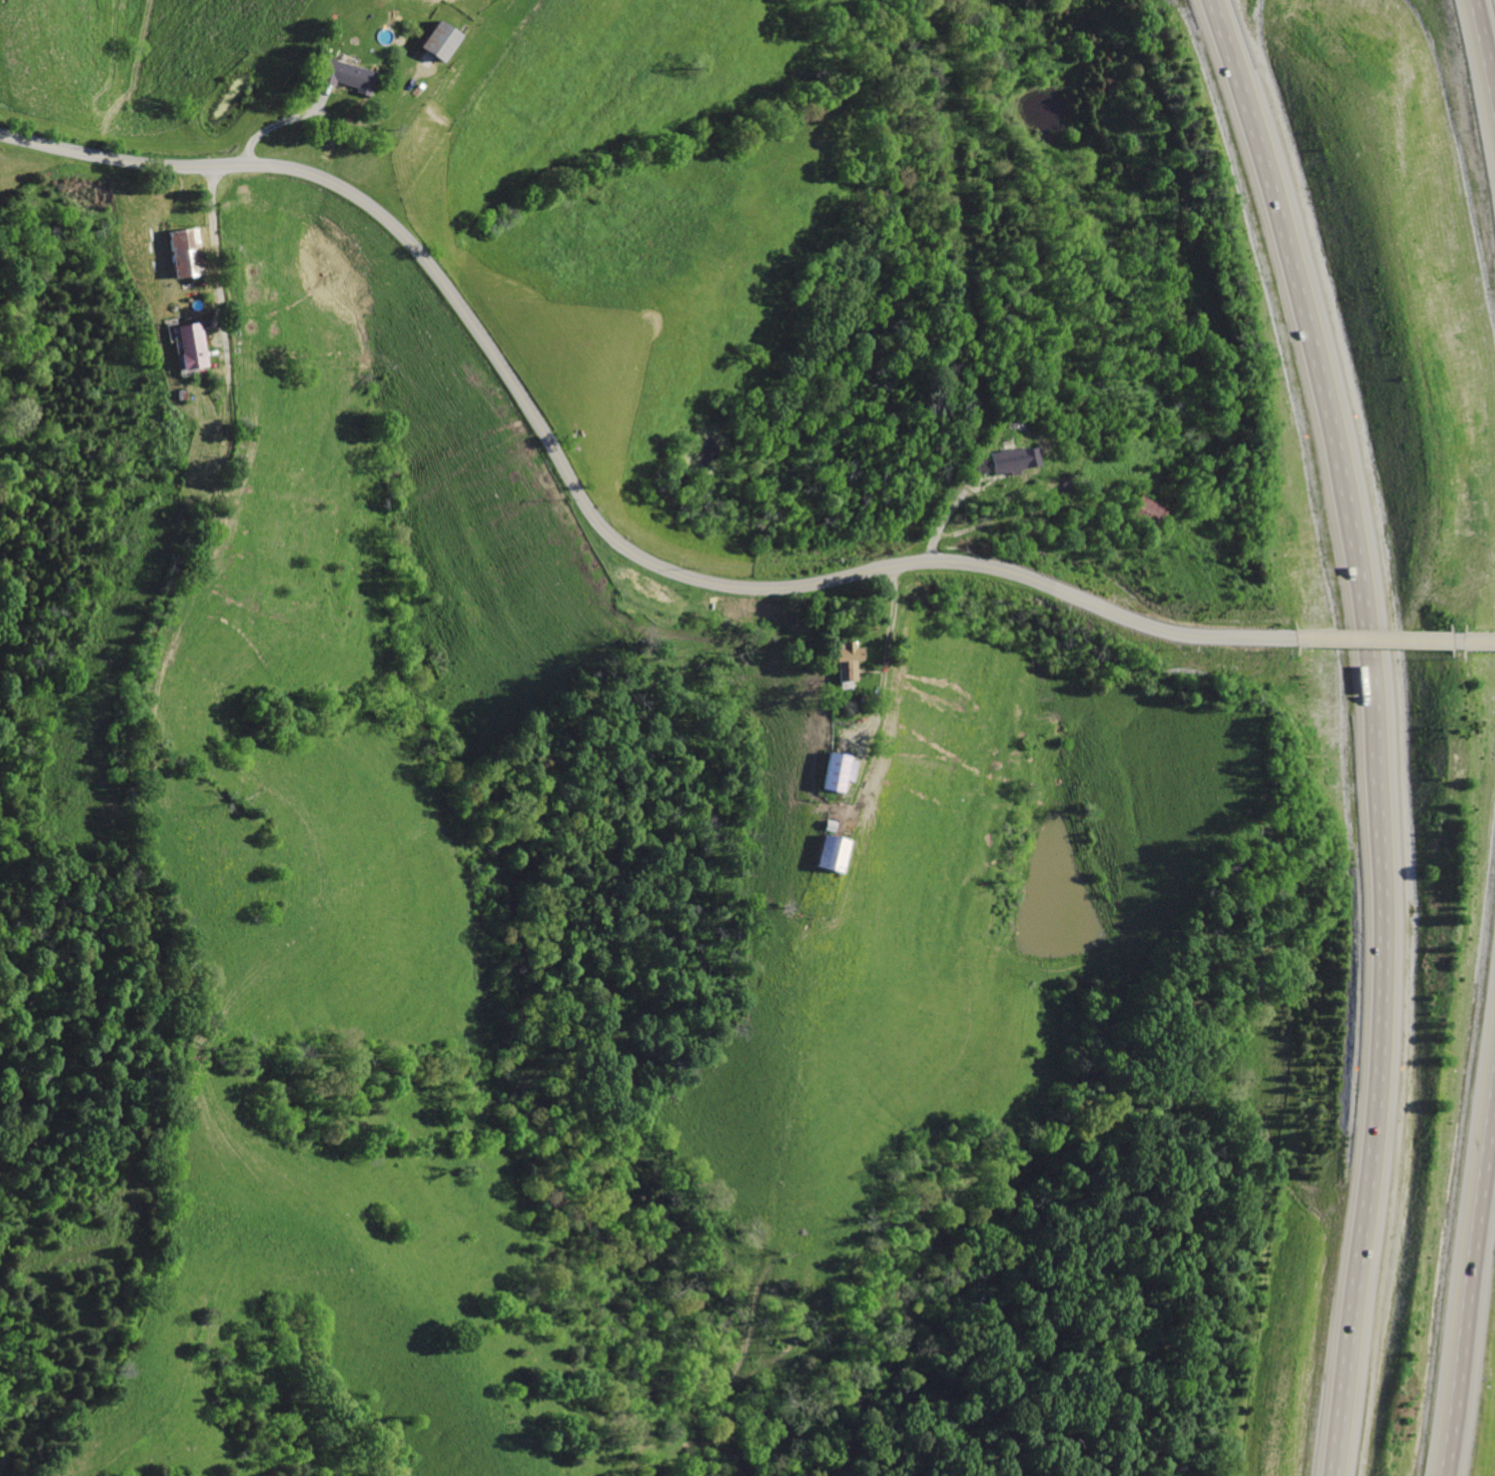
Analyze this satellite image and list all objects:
road: (1488, 24)
building: (446, 41)
building: (357, 78)
building: (187, 251)
building: (195, 347)
building: (1008, 457)
road: (584, 504)
road: (933, 548)
road: (1368, 641)
road: (1449, 643)
road: (1475, 643)
road: (887, 644)
building: (840, 660)
road: (1371, 728)
building: (833, 772)
road: (157, 826)
building: (825, 853)
road: (1477, 1347)

